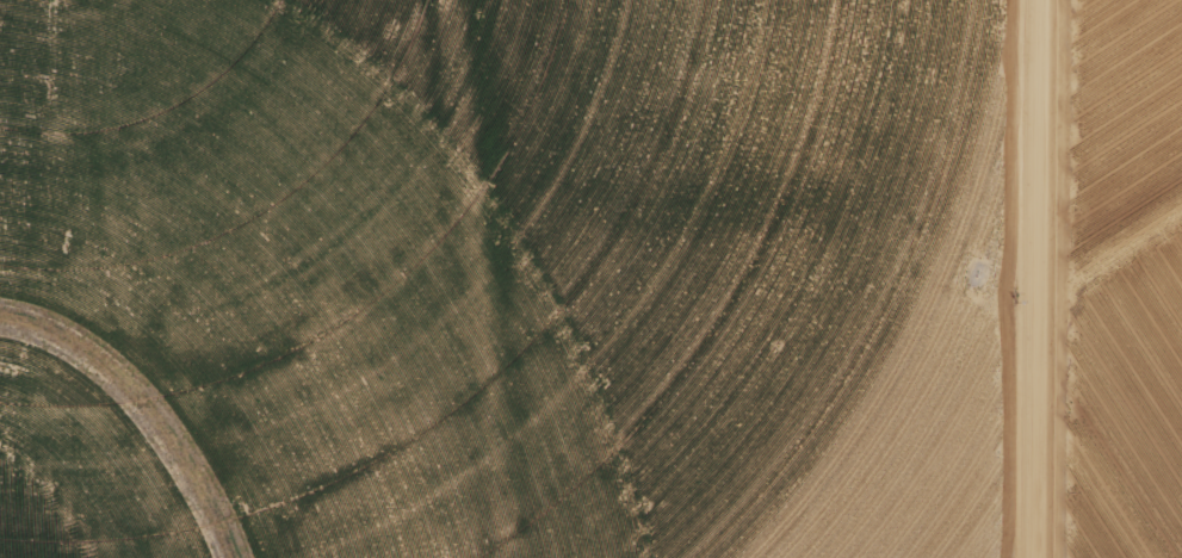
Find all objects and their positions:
road: (1015, 279)

